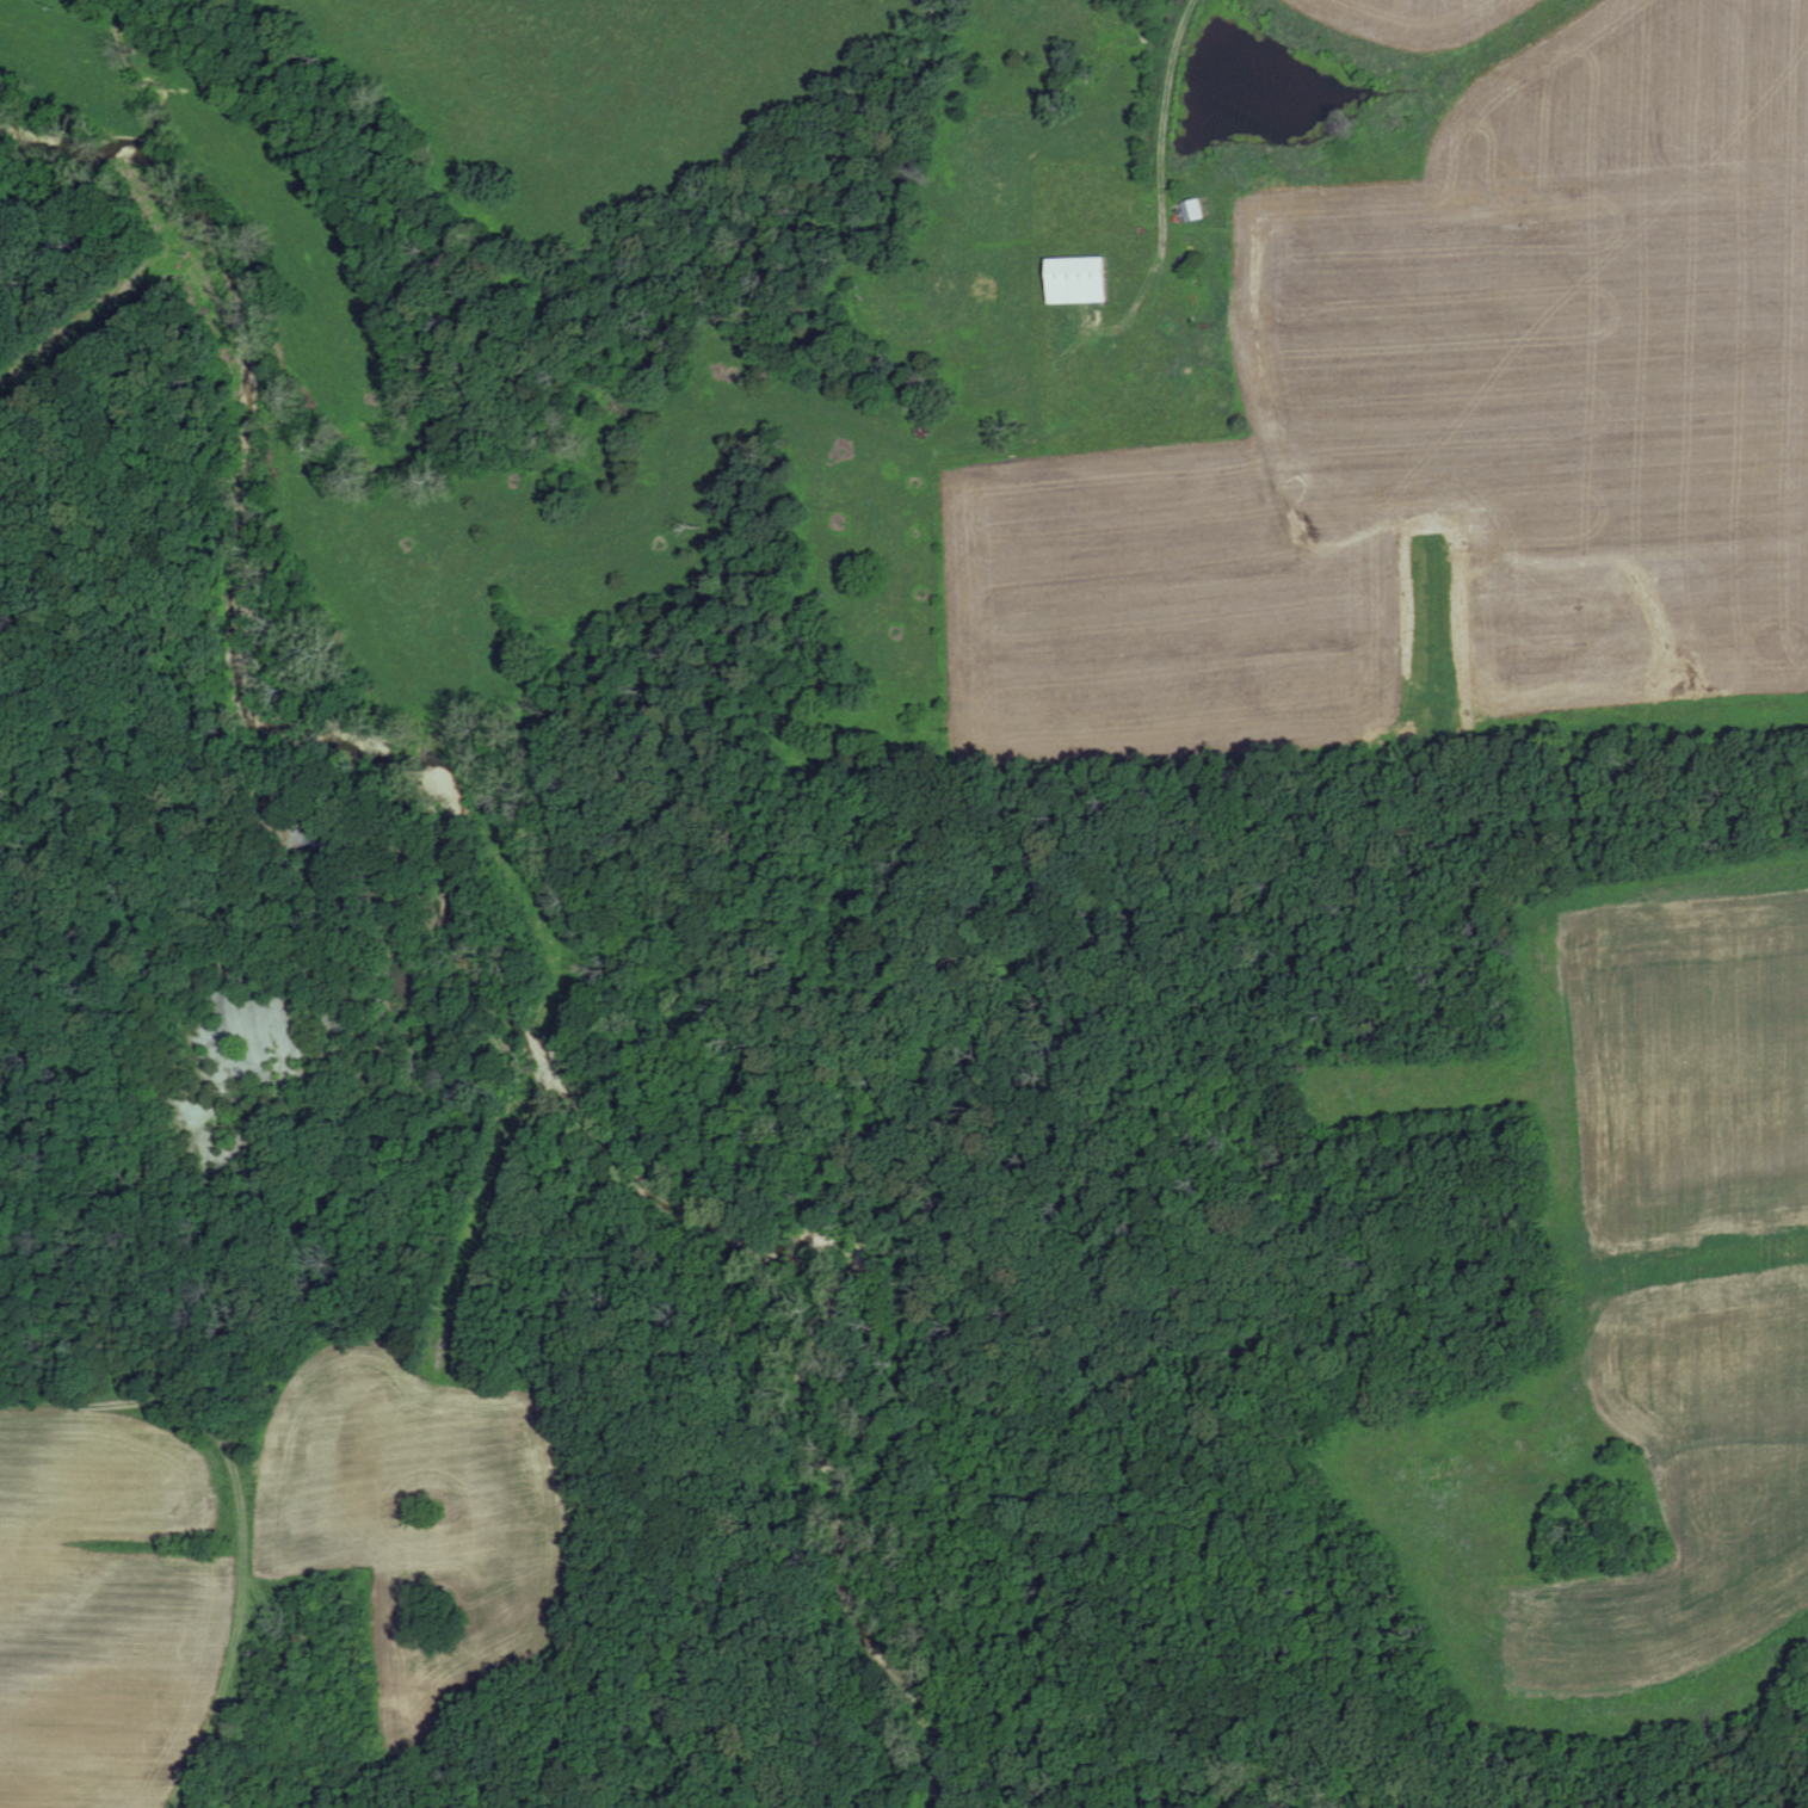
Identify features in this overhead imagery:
road: (1167, 125)
building: (1195, 212)
building: (1085, 283)
road: (197, 1419)
building: (306, 1624)

